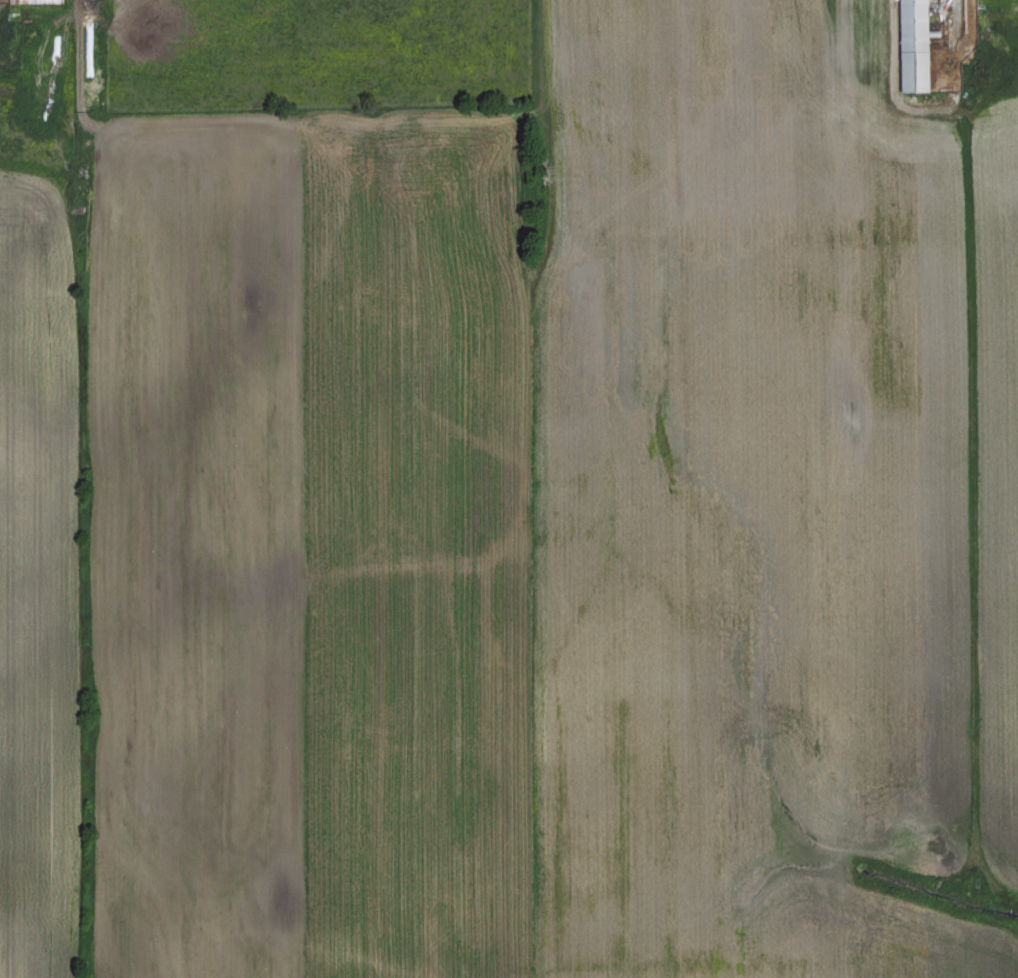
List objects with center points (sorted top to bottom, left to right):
building: (27, 0)
building: (910, 45)

